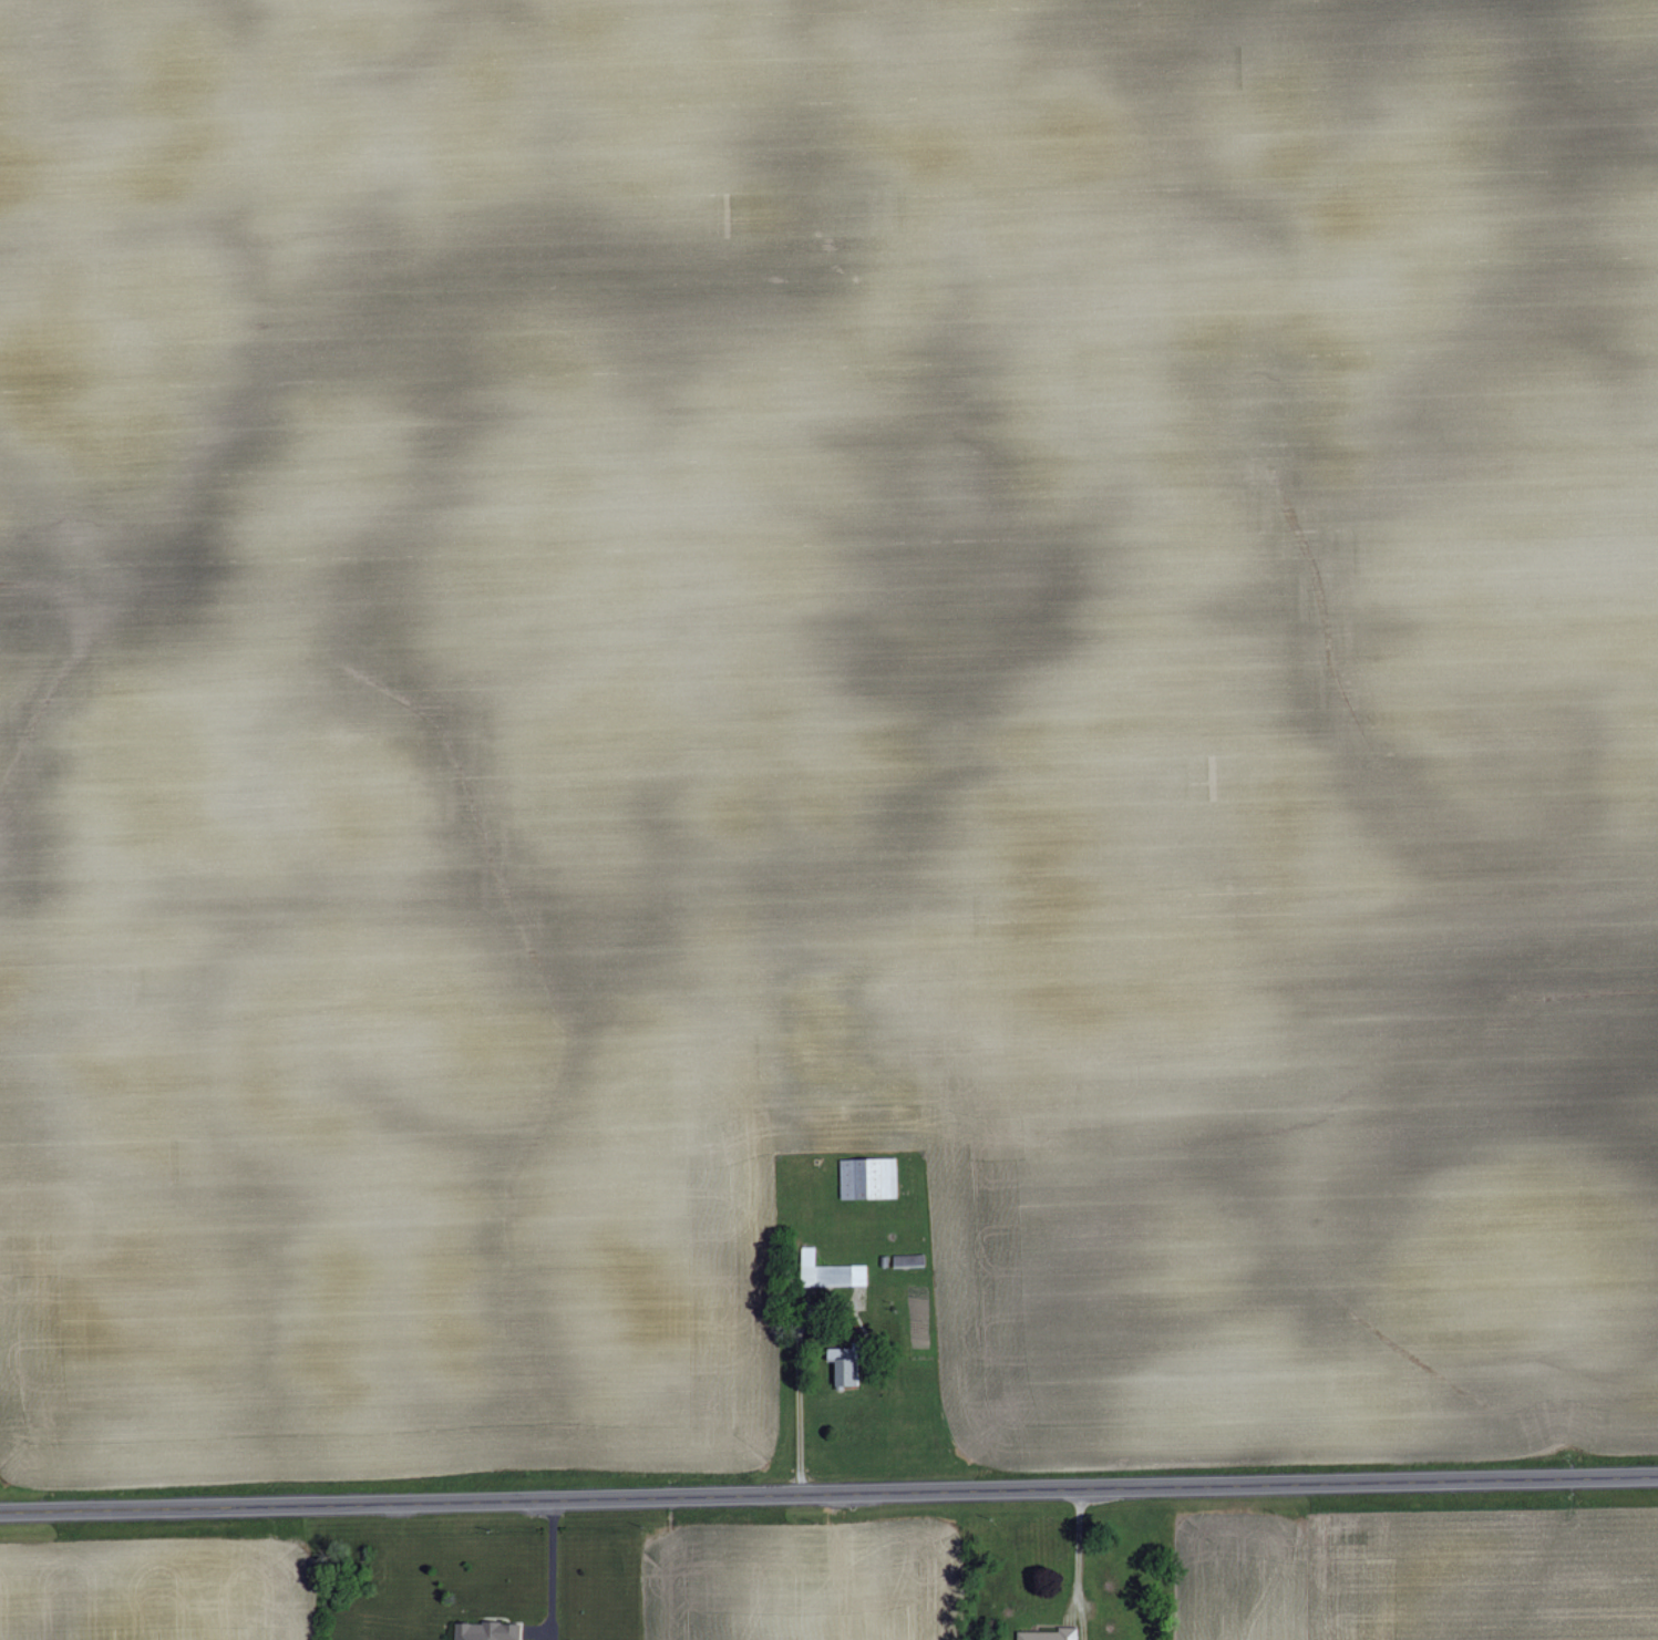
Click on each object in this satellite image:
building: (869, 1177)
building: (853, 1363)
road: (797, 1389)
road: (828, 1494)
road: (1078, 1553)
road: (550, 1570)
building: (487, 1630)
building: (1051, 1634)

